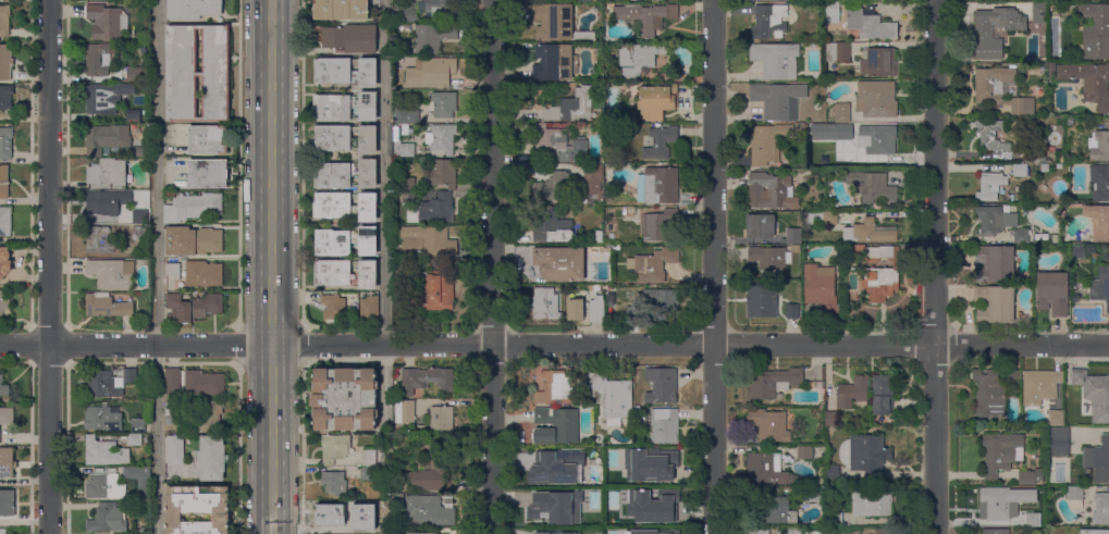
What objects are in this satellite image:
building: (653, 0)
building: (1081, 0)
building: (584, 1)
building: (193, 9)
building: (341, 10)
building: (831, 10)
building: (426, 11)
building: (1038, 13)
building: (646, 16)
building: (4, 21)
building: (768, 21)
building: (106, 22)
building: (553, 22)
building: (870, 25)
building: (1095, 32)
building: (983, 33)
building: (584, 36)
building: (432, 37)
building: (350, 38)
building: (401, 50)
building: (838, 52)
building: (98, 58)
building: (638, 59)
building: (776, 60)
building: (5, 62)
building: (555, 62)
building: (878, 62)
building: (1051, 69)
building: (345, 71)
building: (430, 72)
building: (197, 73)
building: (135, 74)
building: (1089, 82)
building: (1000, 89)
building: (5, 97)
building: (100, 99)
building: (876, 99)
building: (778, 100)
building: (656, 101)
building: (442, 104)
building: (345, 107)
building: (571, 107)
building: (841, 112)
building: (133, 115)
building: (406, 116)
building: (146, 117)
building: (1071, 121)
building: (804, 127)
building: (816, 132)
building: (838, 132)
building: (990, 135)
building: (106, 138)
building: (345, 138)
building: (441, 138)
building: (877, 139)
building: (207, 140)
building: (5, 142)
building: (660, 142)
building: (766, 144)
building: (1099, 146)
building: (557, 147)
building: (407, 150)
building: (143, 151)
building: (850, 151)
building: (1006, 154)
building: (1035, 157)
building: (1060, 157)
road: (303, 163)
road: (239, 164)
building: (1045, 167)
building: (1021, 171)
road: (158, 172)
road: (385, 172)
building: (107, 173)
building: (444, 173)
building: (208, 174)
building: (345, 174)
building: (593, 177)
building: (3, 182)
building: (1099, 182)
building: (408, 184)
building: (658, 185)
building: (990, 186)
building: (552, 187)
building: (872, 187)
building: (769, 191)
building: (611, 193)
building: (407, 197)
building: (107, 202)
building: (193, 207)
building: (345, 207)
building: (436, 209)
building: (139, 216)
building: (822, 218)
building: (994, 220)
building: (5, 221)
building: (1098, 222)
building: (551, 224)
building: (661, 226)
building: (760, 226)
building: (870, 232)
building: (139, 233)
building: (1021, 235)
building: (599, 236)
building: (612, 236)
building: (792, 236)
building: (1055, 238)
building: (428, 240)
building: (99, 241)
building: (193, 241)
building: (346, 241)
building: (1080, 250)
building: (876, 252)
building: (772, 257)
building: (4, 262)
building: (559, 262)
building: (996, 263)
building: (654, 264)
road: (49, 266)
road: (271, 266)
road: (491, 266)
road: (714, 266)
road: (935, 266)
building: (173, 270)
building: (110, 273)
building: (345, 273)
building: (204, 274)
building: (879, 283)
building: (1100, 286)
building: (821, 287)
building: (434, 291)
building: (1052, 293)
building: (757, 299)
building: (662, 301)
building: (995, 303)
building: (3, 305)
building: (545, 305)
building: (107, 306)
building: (193, 307)
building: (334, 307)
building: (369, 308)
building: (596, 308)
building: (575, 309)
building: (792, 311)
building: (632, 313)
road: (554, 343)
road: (239, 345)
road: (303, 346)
building: (1013, 375)
building: (426, 378)
building: (171, 381)
building: (771, 382)
building: (108, 383)
building: (204, 383)
building: (811, 384)
building: (661, 385)
building: (818, 385)
building: (3, 386)
building: (1039, 386)
road: (385, 387)
building: (1093, 387)
building: (396, 388)
building: (554, 388)
building: (852, 392)
building: (988, 392)
building: (882, 394)
building: (611, 397)
building: (345, 398)
building: (637, 410)
building: (405, 411)
building: (173, 412)
building: (7, 415)
building: (209, 415)
building: (102, 418)
building: (441, 418)
building: (1055, 418)
building: (830, 419)
building: (138, 425)
building: (556, 425)
building: (664, 425)
building: (768, 425)
building: (134, 439)
road: (158, 439)
building: (1058, 442)
road: (239, 448)
building: (334, 448)
road: (301, 449)
building: (175, 450)
building: (103, 452)
building: (804, 452)
building: (868, 455)
building: (997, 455)
building: (212, 458)
building: (368, 458)
building: (1098, 460)
building: (7, 462)
building: (649, 464)
building: (555, 467)
building: (433, 470)
building: (766, 470)
building: (831, 472)
building: (367, 474)
building: (1026, 479)
building: (139, 480)
building: (334, 483)
building: (104, 487)
building: (812, 494)
building: (1075, 497)
building: (401, 498)
building: (872, 502)
building: (998, 502)
building: (7, 504)
building: (651, 506)
building: (1101, 508)
building: (197, 509)
building: (429, 510)
building: (779, 510)
building: (337, 513)
building: (108, 518)
building: (1032, 519)
building: (549, 521)
building: (371, 526)
building: (144, 530)
building: (2, 531)
building: (332, 531)
building: (654, 531)
building: (792, 531)
building: (884, 531)
building: (995, 531)
building: (557, 532)
building: (759, 532)
building: (1094, 532)
building: (422, 533)

